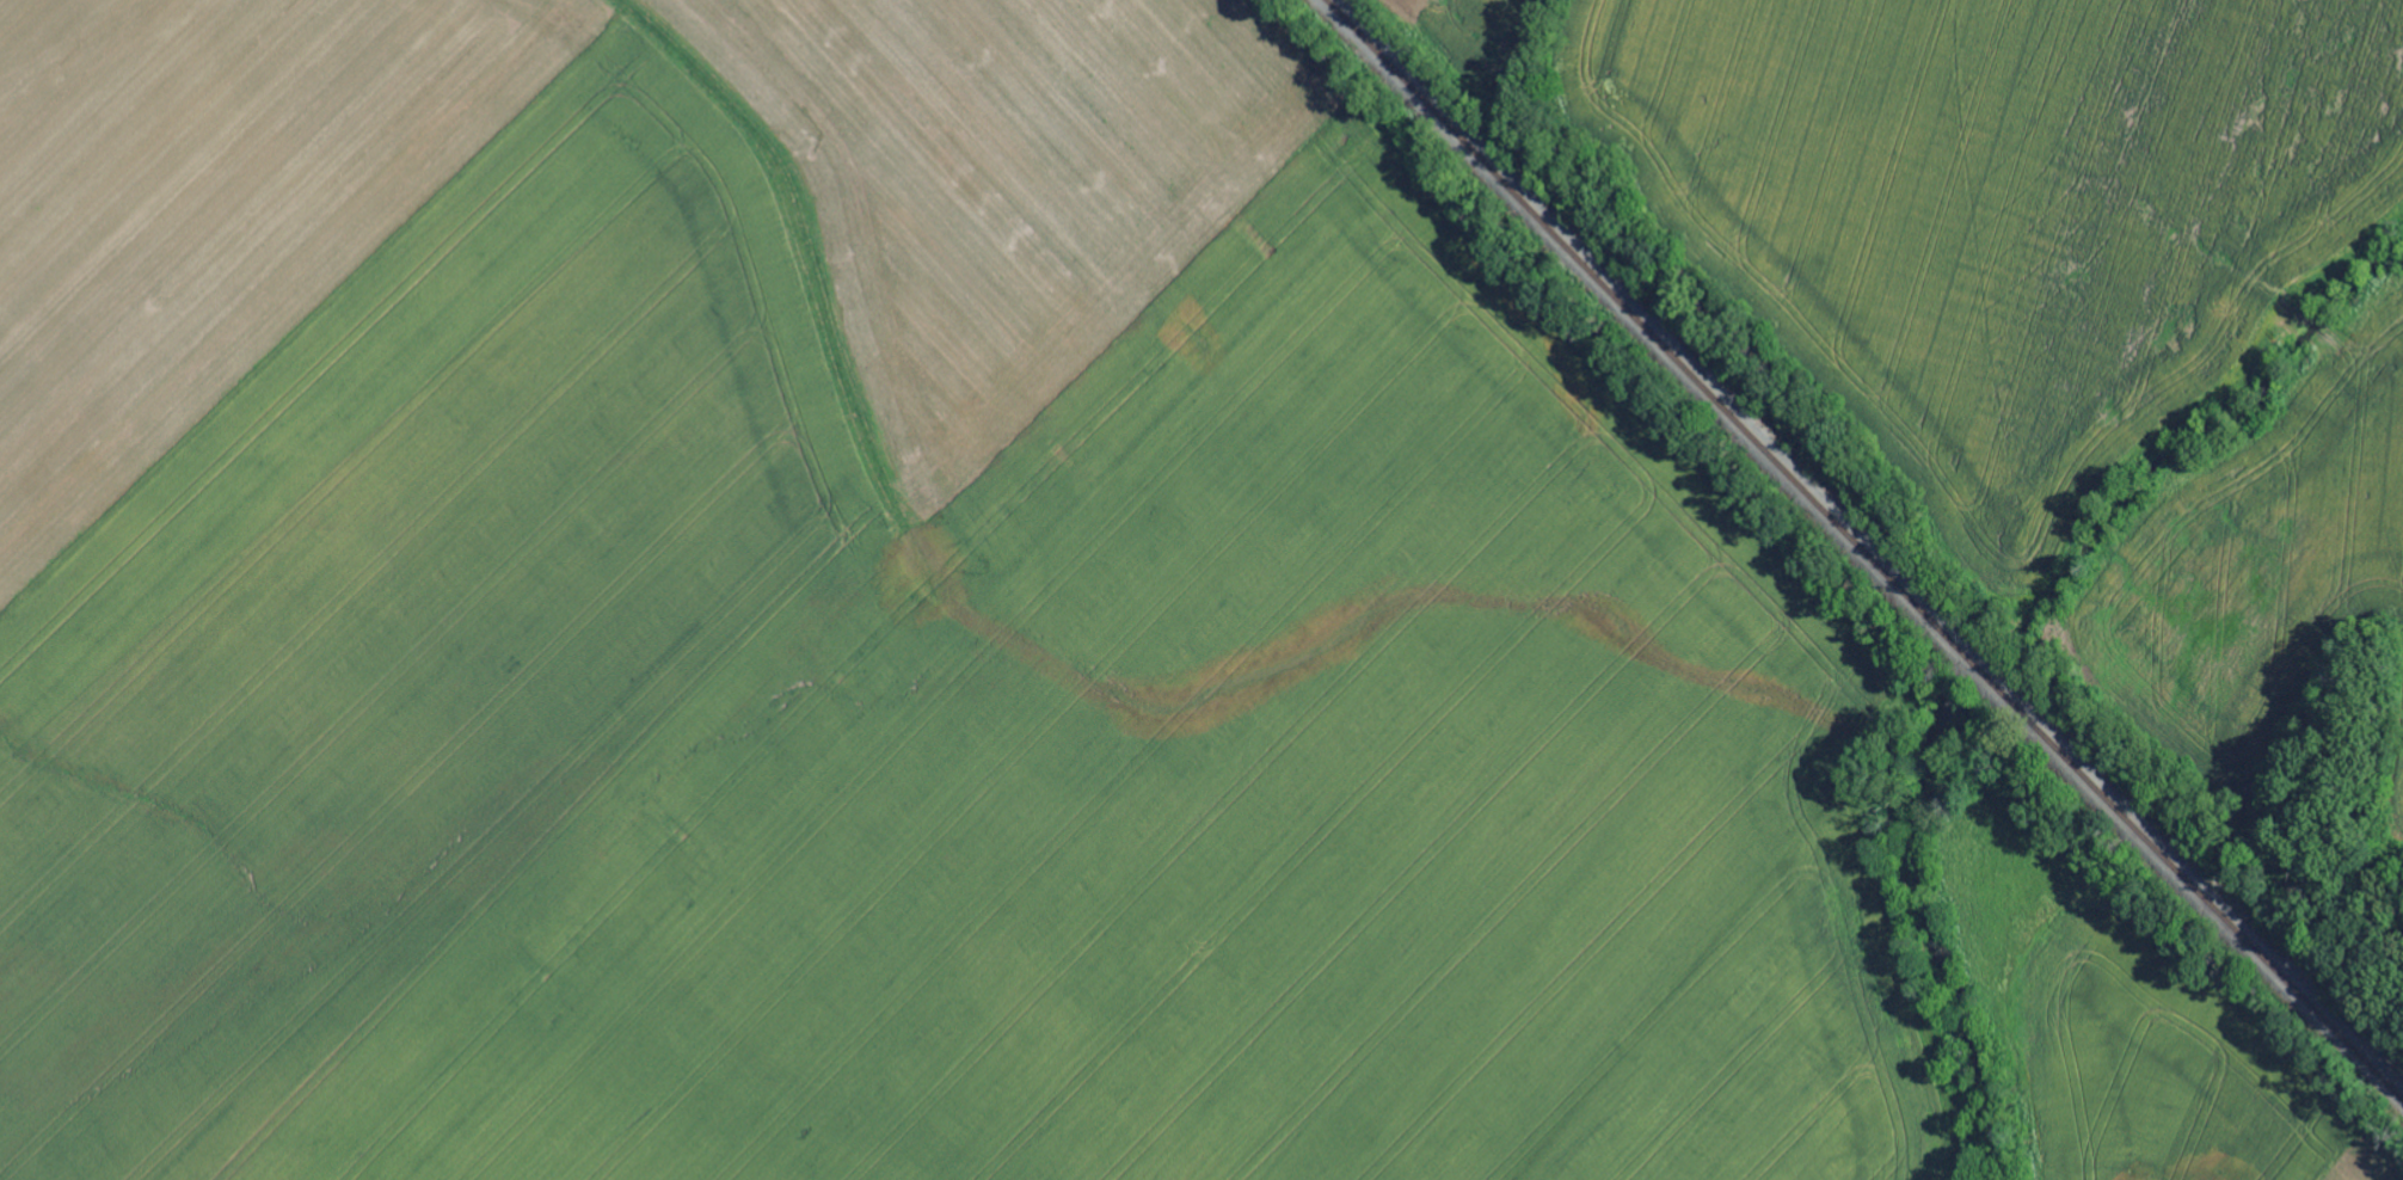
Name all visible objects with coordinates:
river: (2189, 441)
railway: (1868, 546)
river: (1969, 688)
river: (1931, 958)

